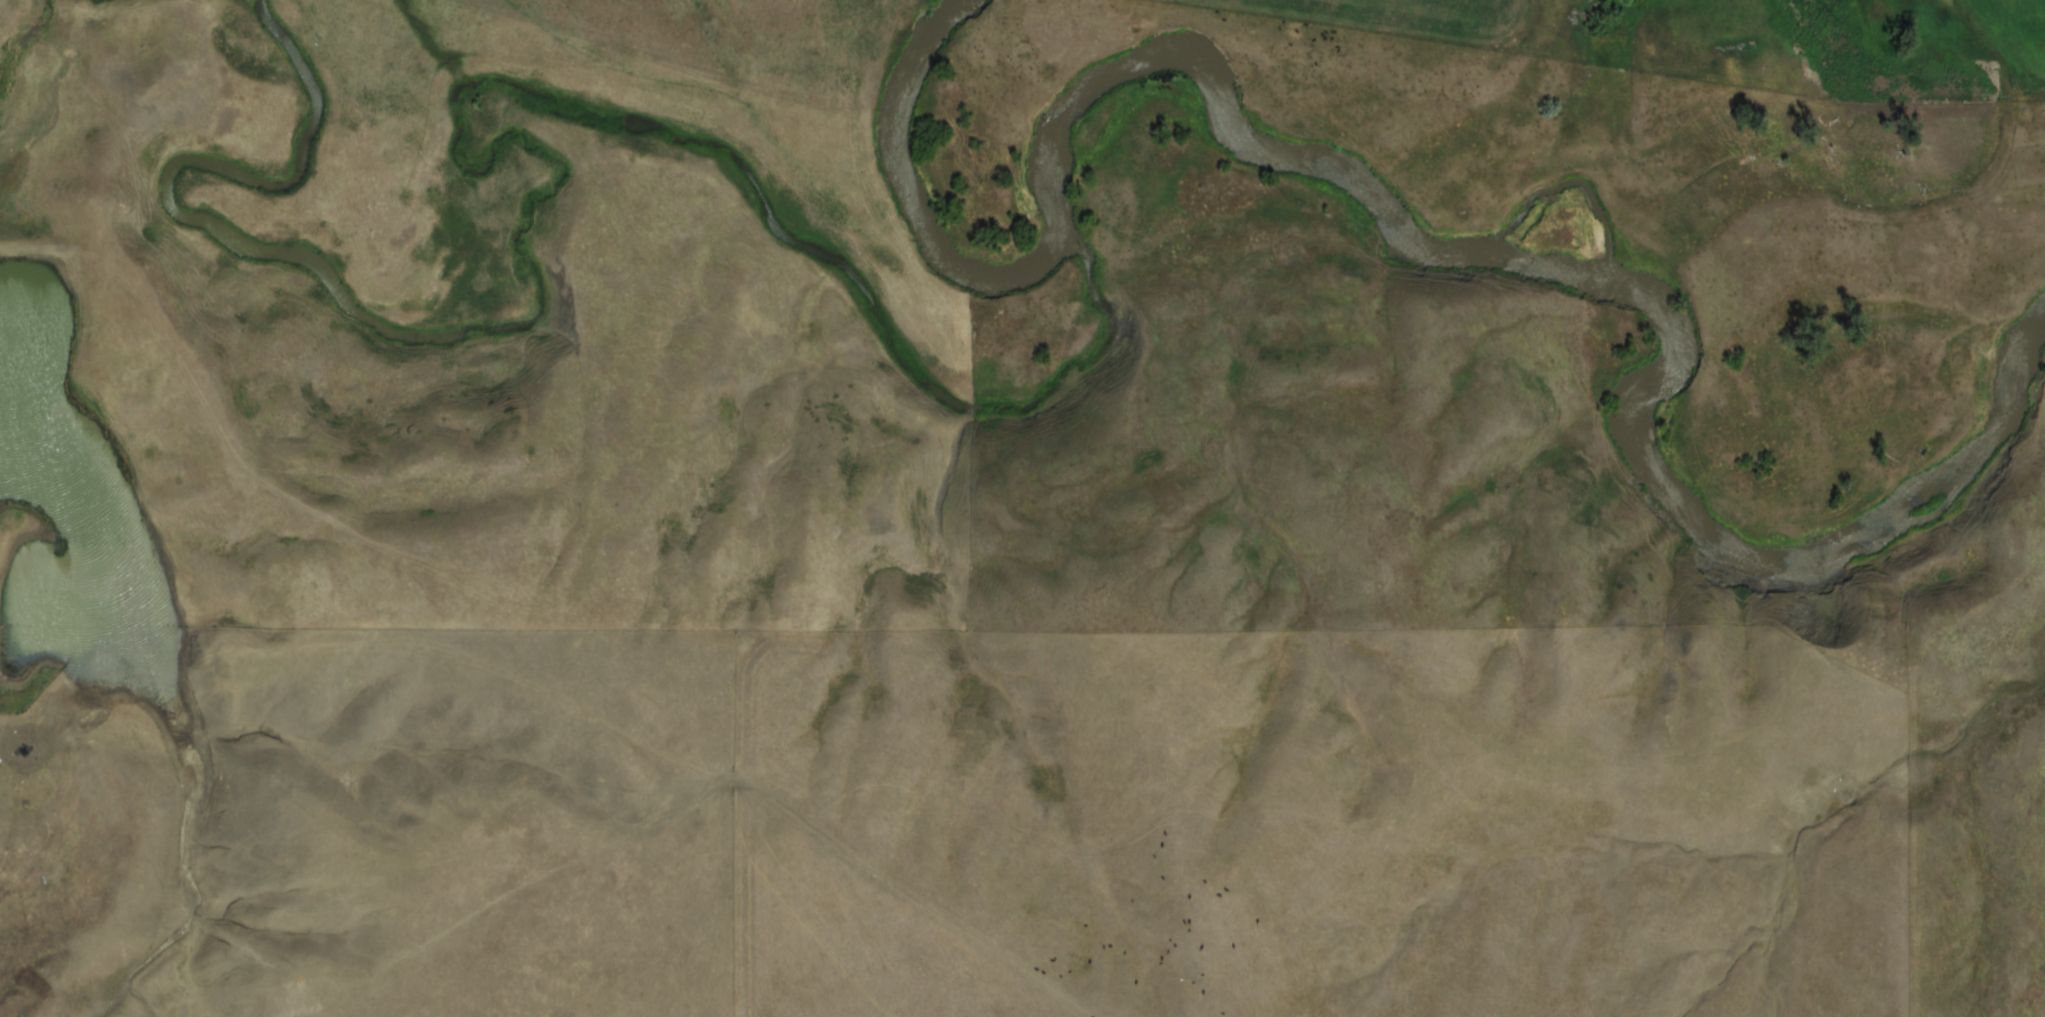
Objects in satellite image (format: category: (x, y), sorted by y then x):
river: (1404, 251)

